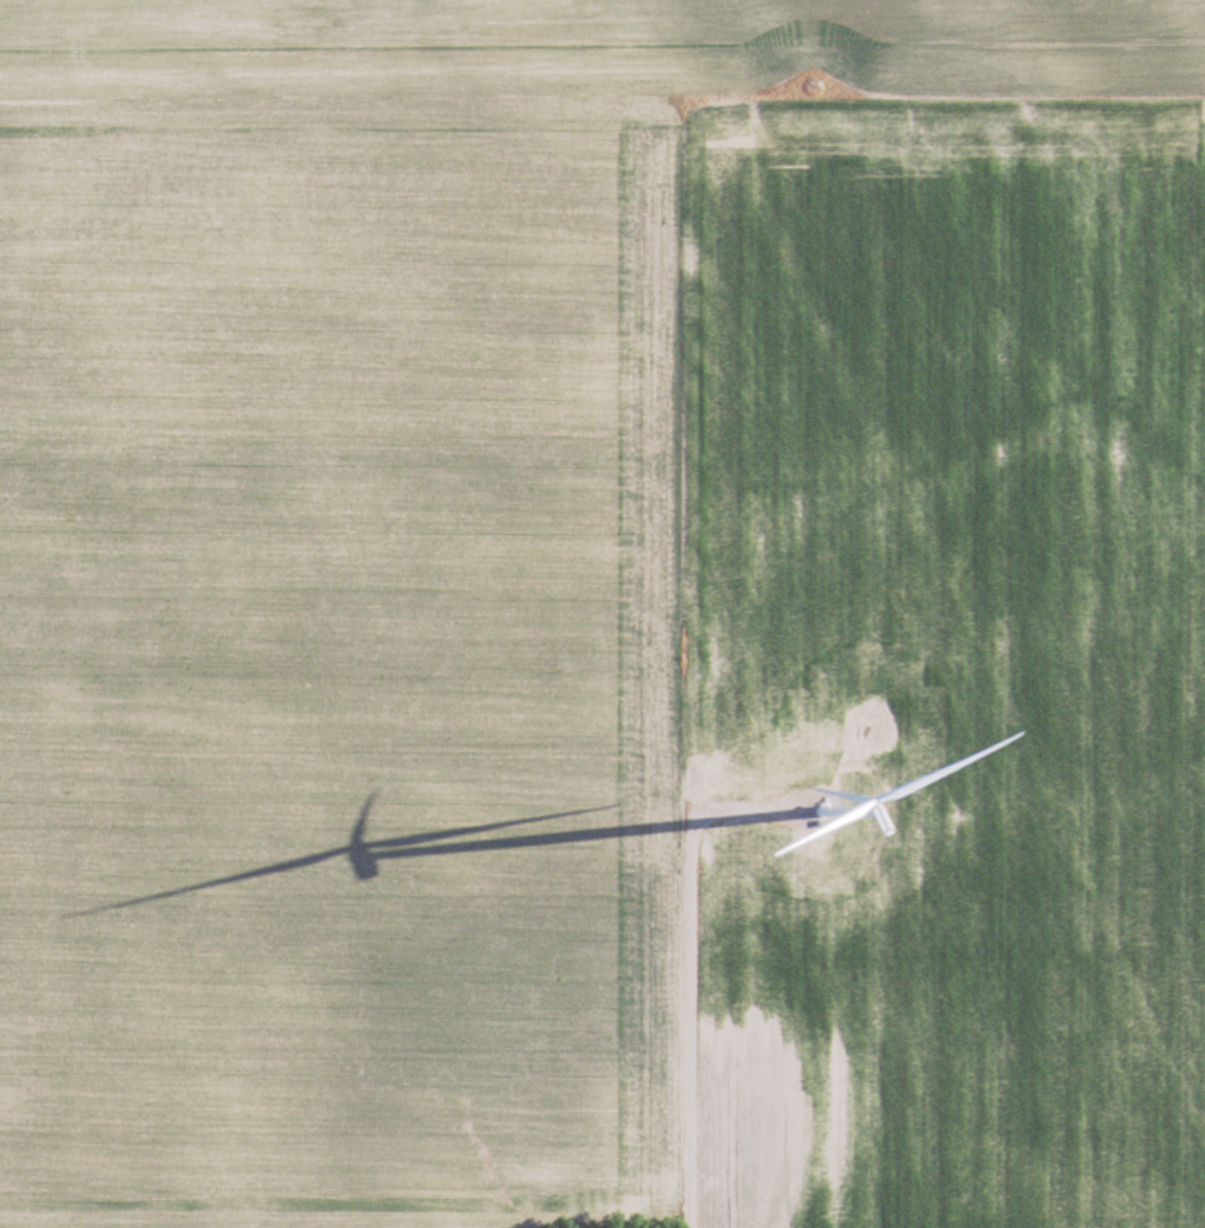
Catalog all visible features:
wind turbine: (816, 809)
road: (666, 971)

